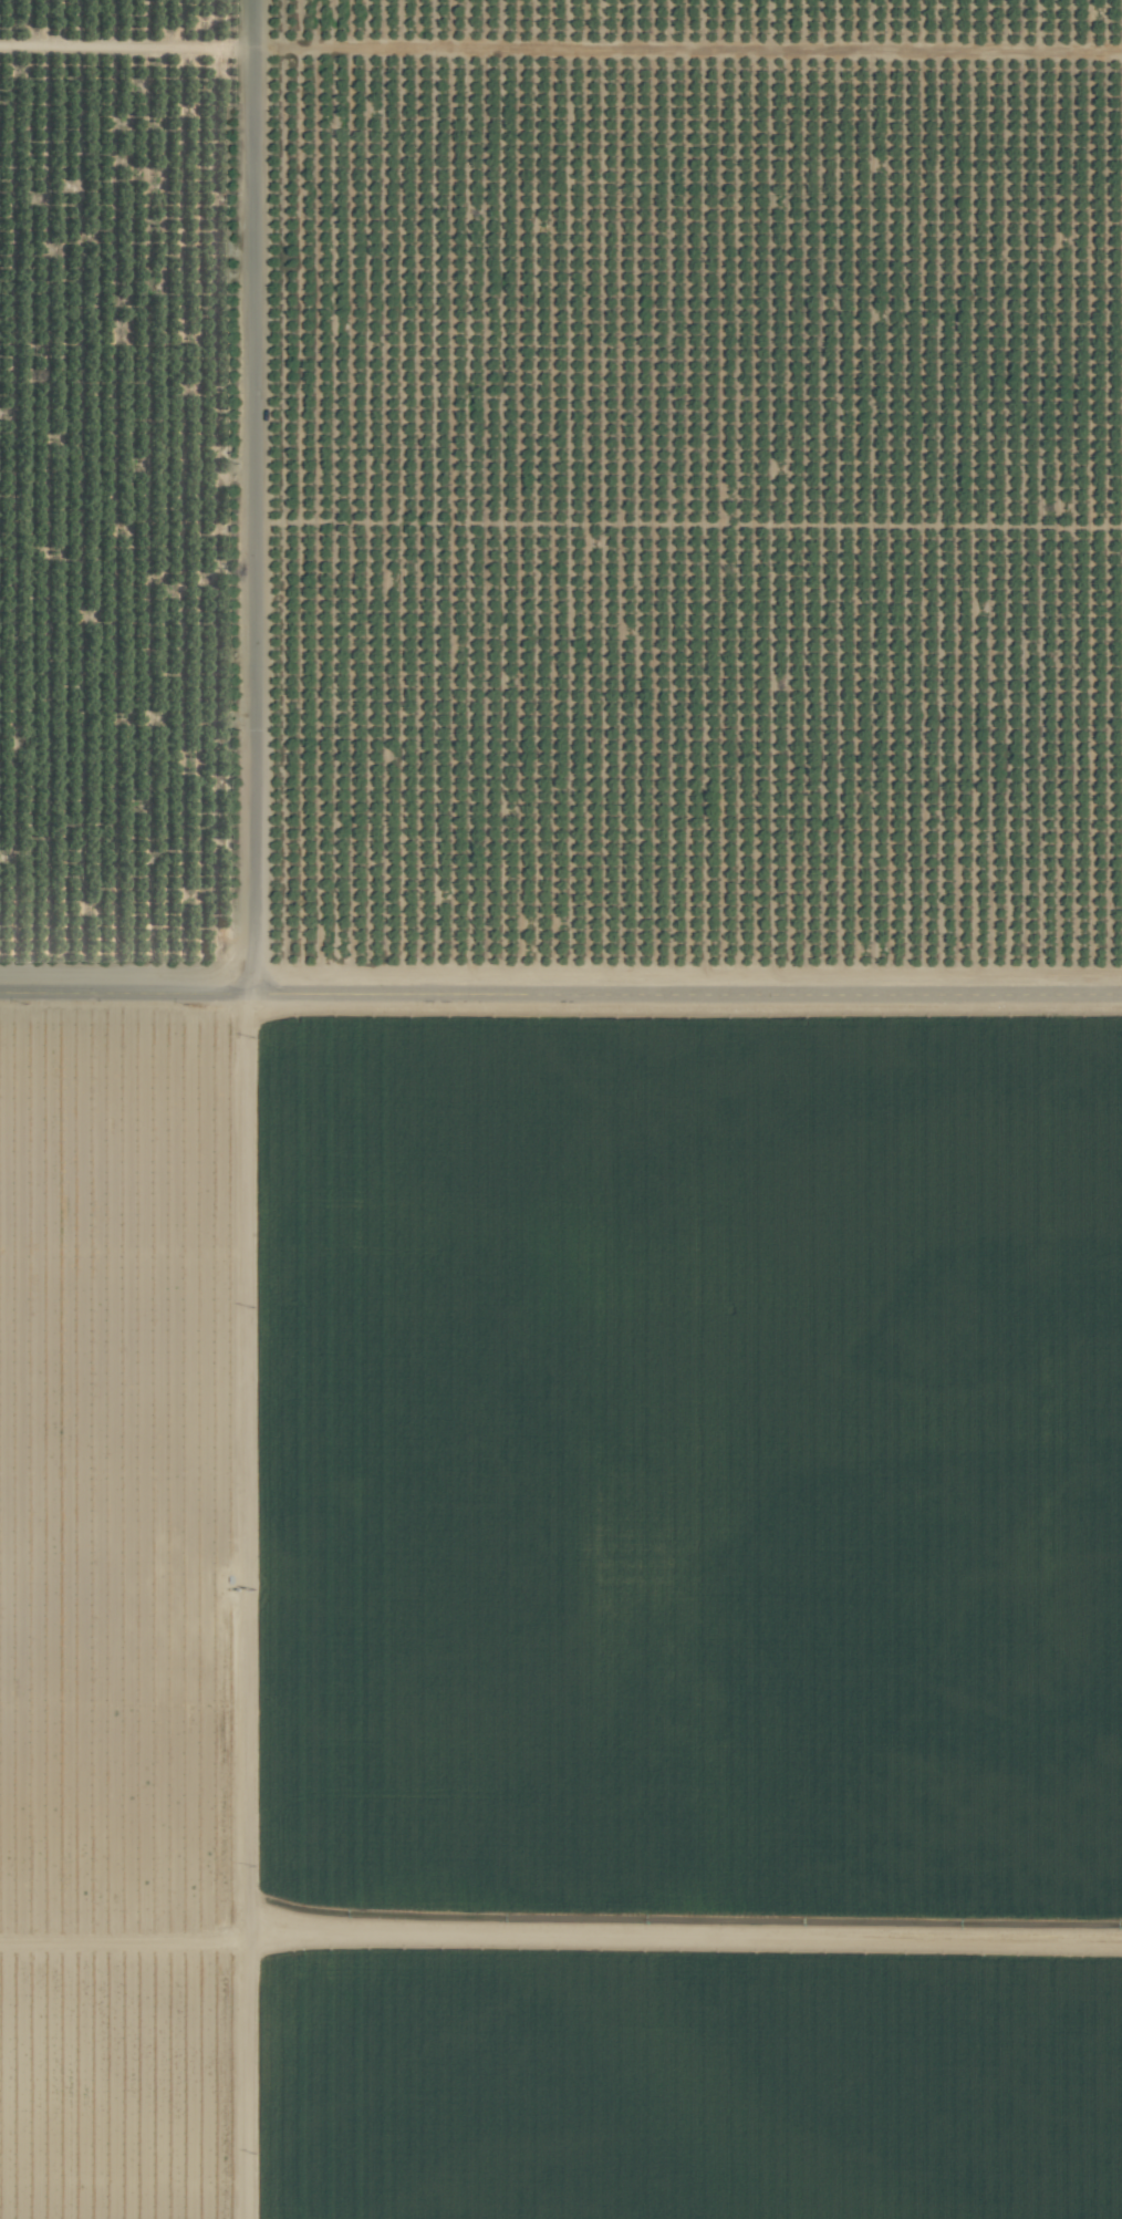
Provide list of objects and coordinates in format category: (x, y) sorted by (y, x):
road: (240, 497)
road: (560, 995)

